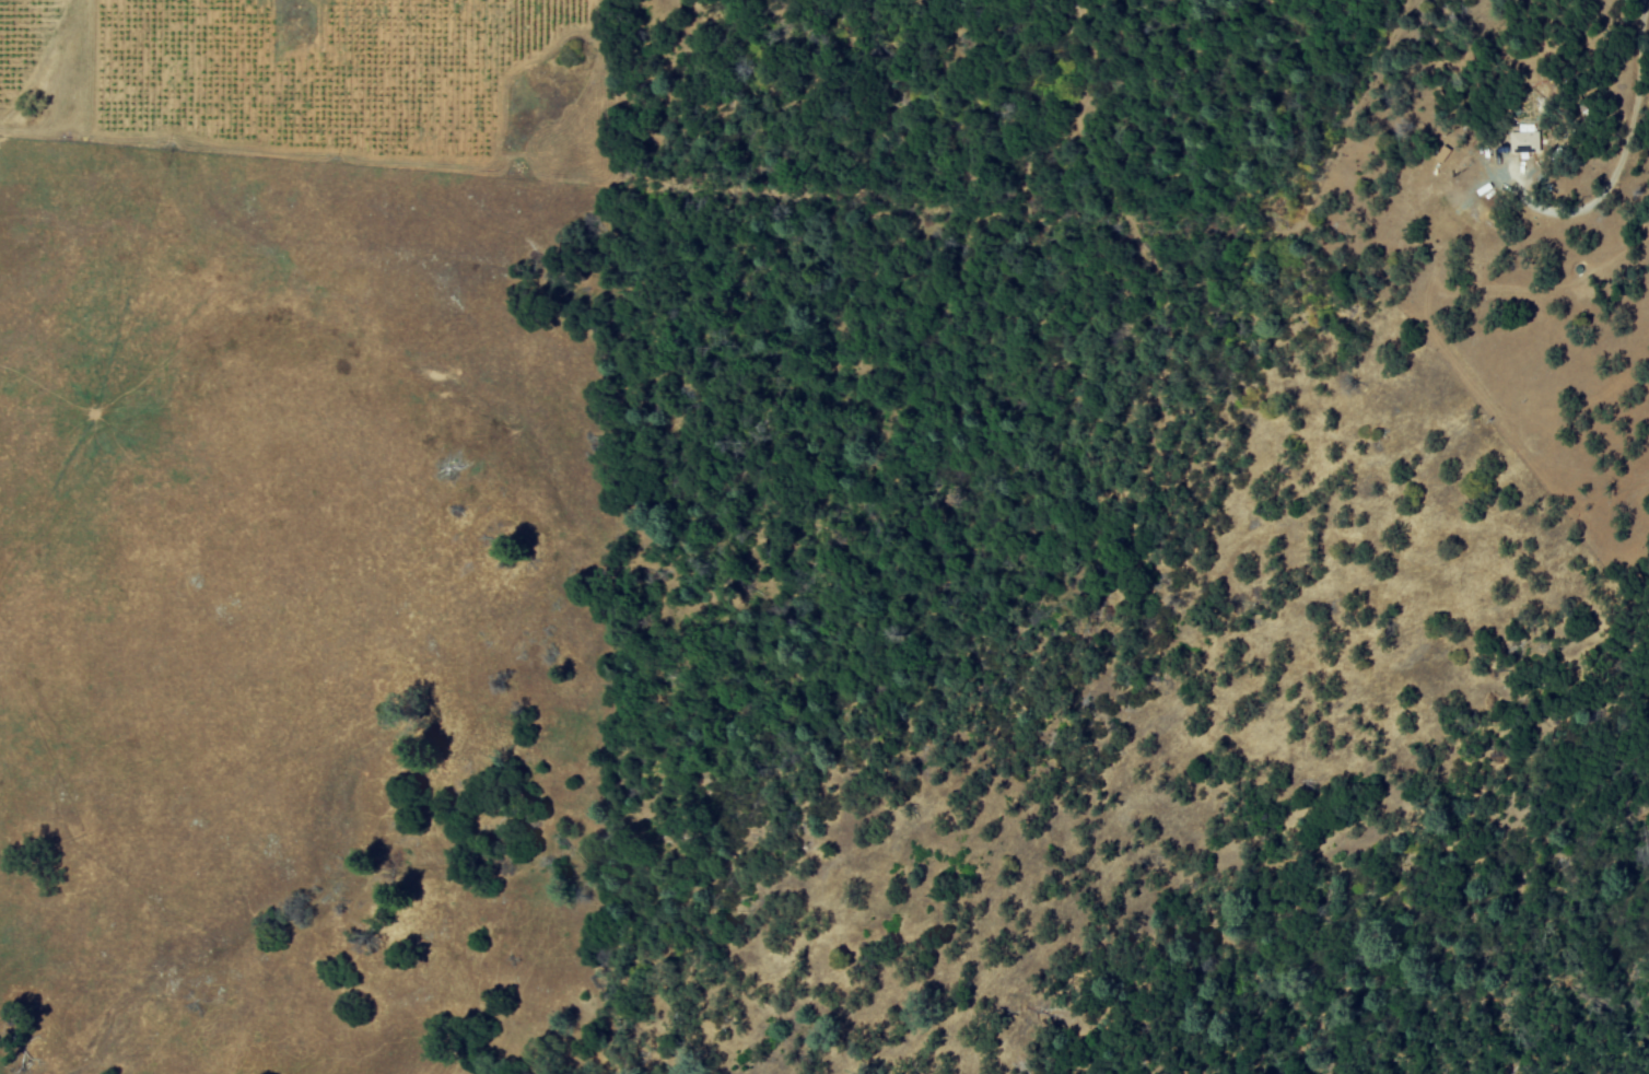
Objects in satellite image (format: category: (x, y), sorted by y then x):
building: (1528, 154)
road: (1629, 156)
road: (689, 201)

